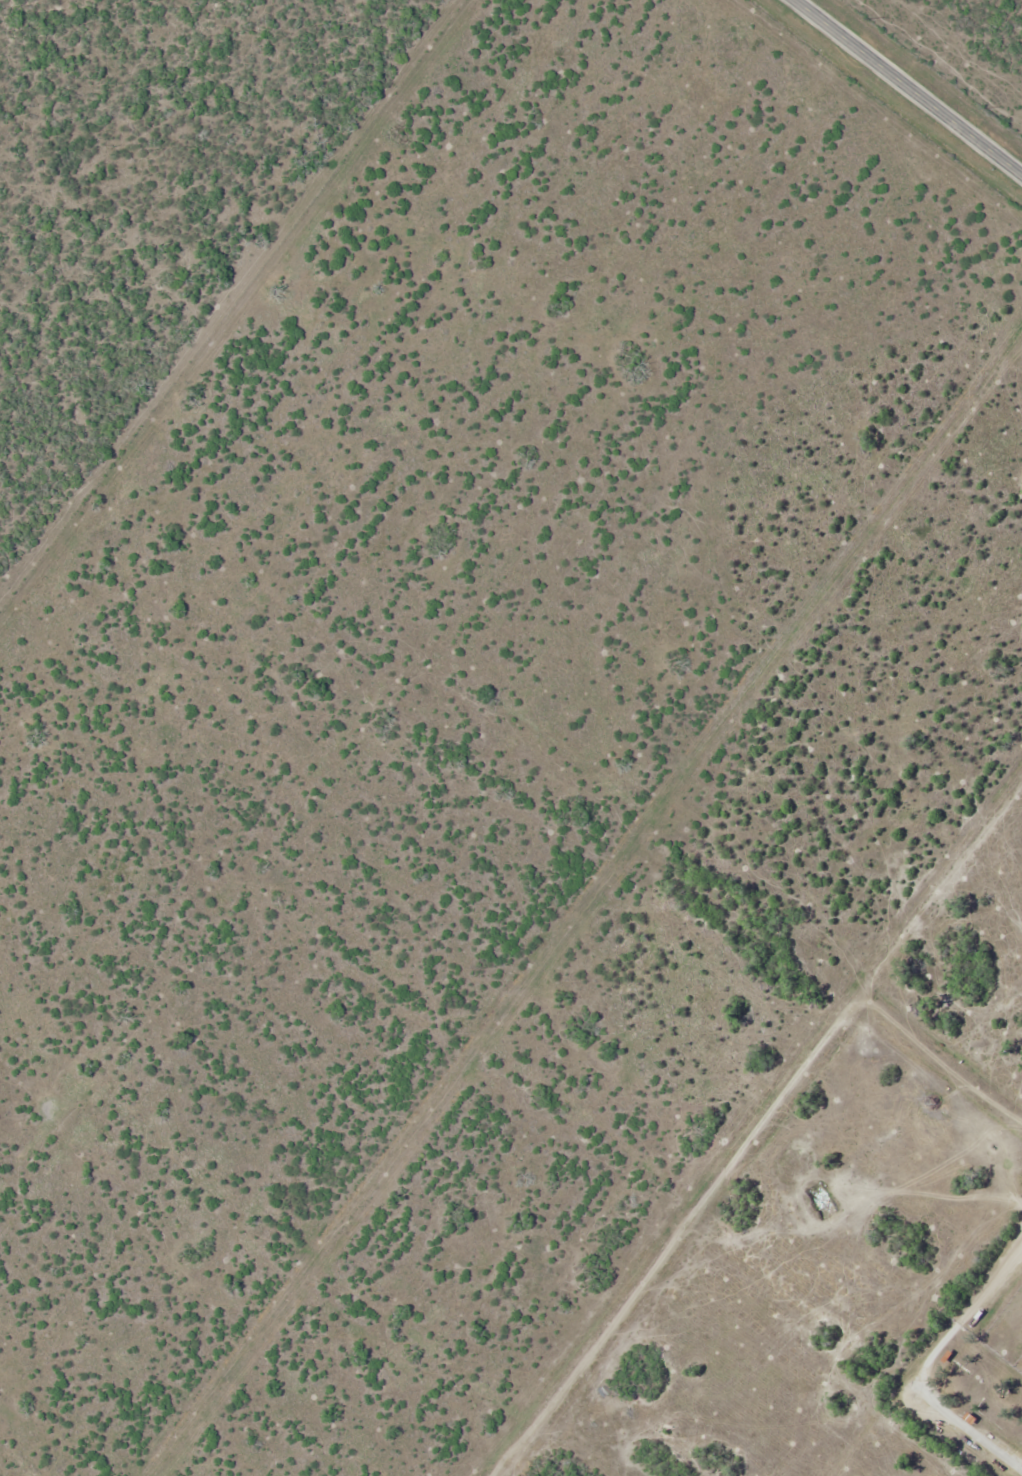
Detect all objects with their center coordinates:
road: (910, 86)
road: (939, 891)
road: (742, 1159)
road: (921, 1372)

